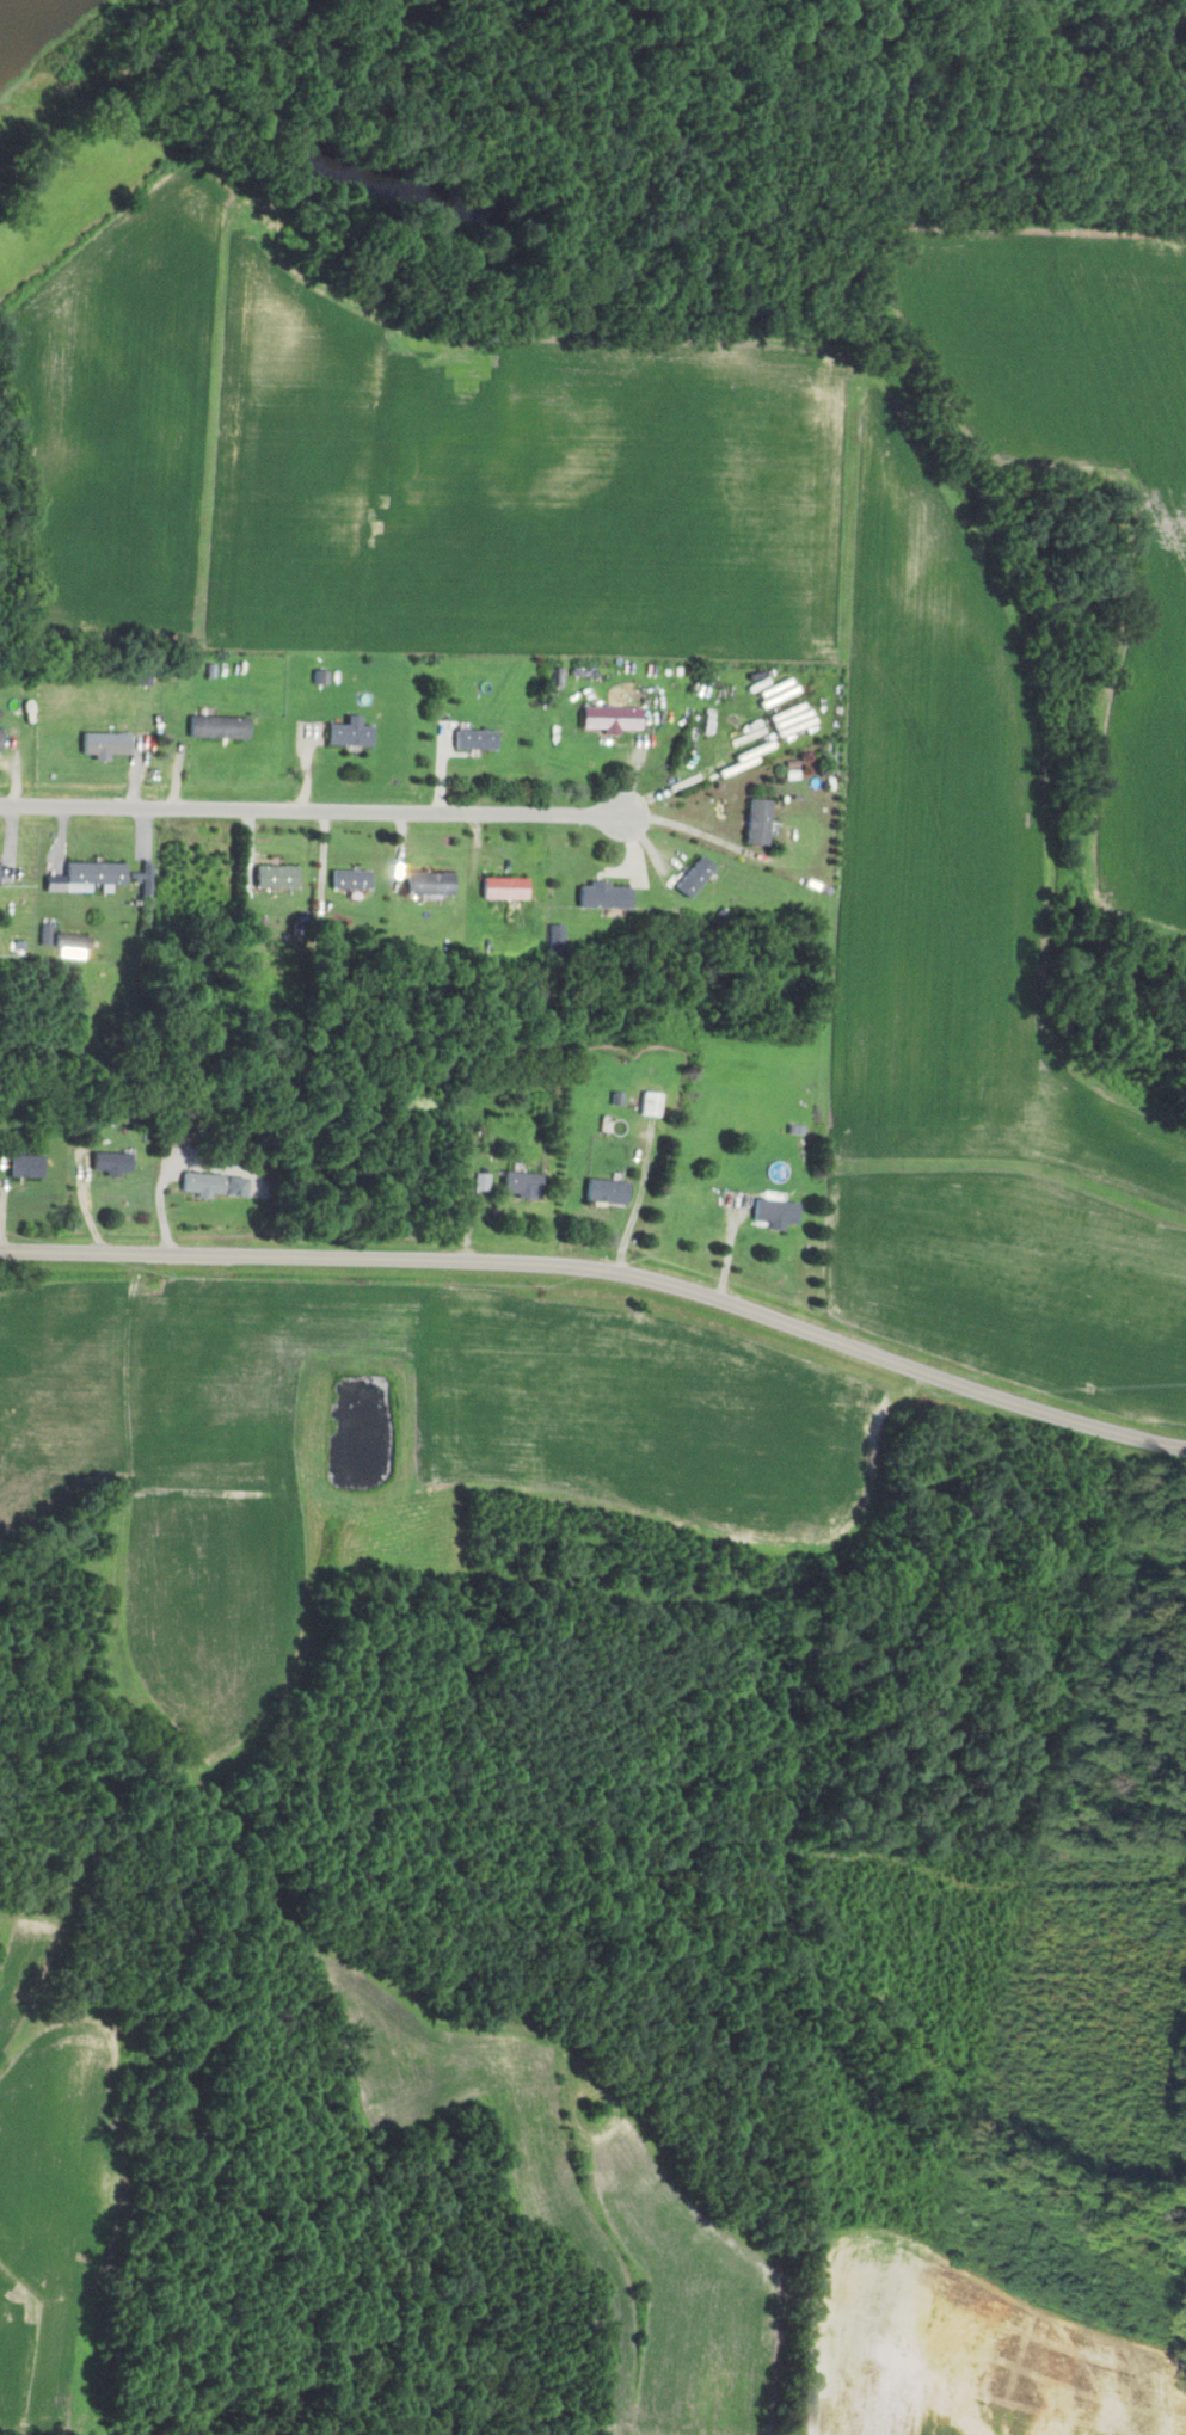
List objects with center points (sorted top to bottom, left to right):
building: (608, 720)
building: (215, 728)
building: (346, 734)
building: (473, 742)
building: (103, 745)
road: (312, 810)
building: (755, 823)
road: (687, 829)
building: (92, 875)
building: (274, 878)
building: (690, 878)
building: (145, 879)
building: (348, 881)
building: (426, 885)
building: (502, 890)
building: (602, 898)
building: (70, 945)
building: (649, 1102)
building: (109, 1166)
building: (24, 1167)
building: (480, 1181)
building: (521, 1183)
building: (213, 1186)
building: (604, 1191)
building: (774, 1212)
road: (601, 1274)

